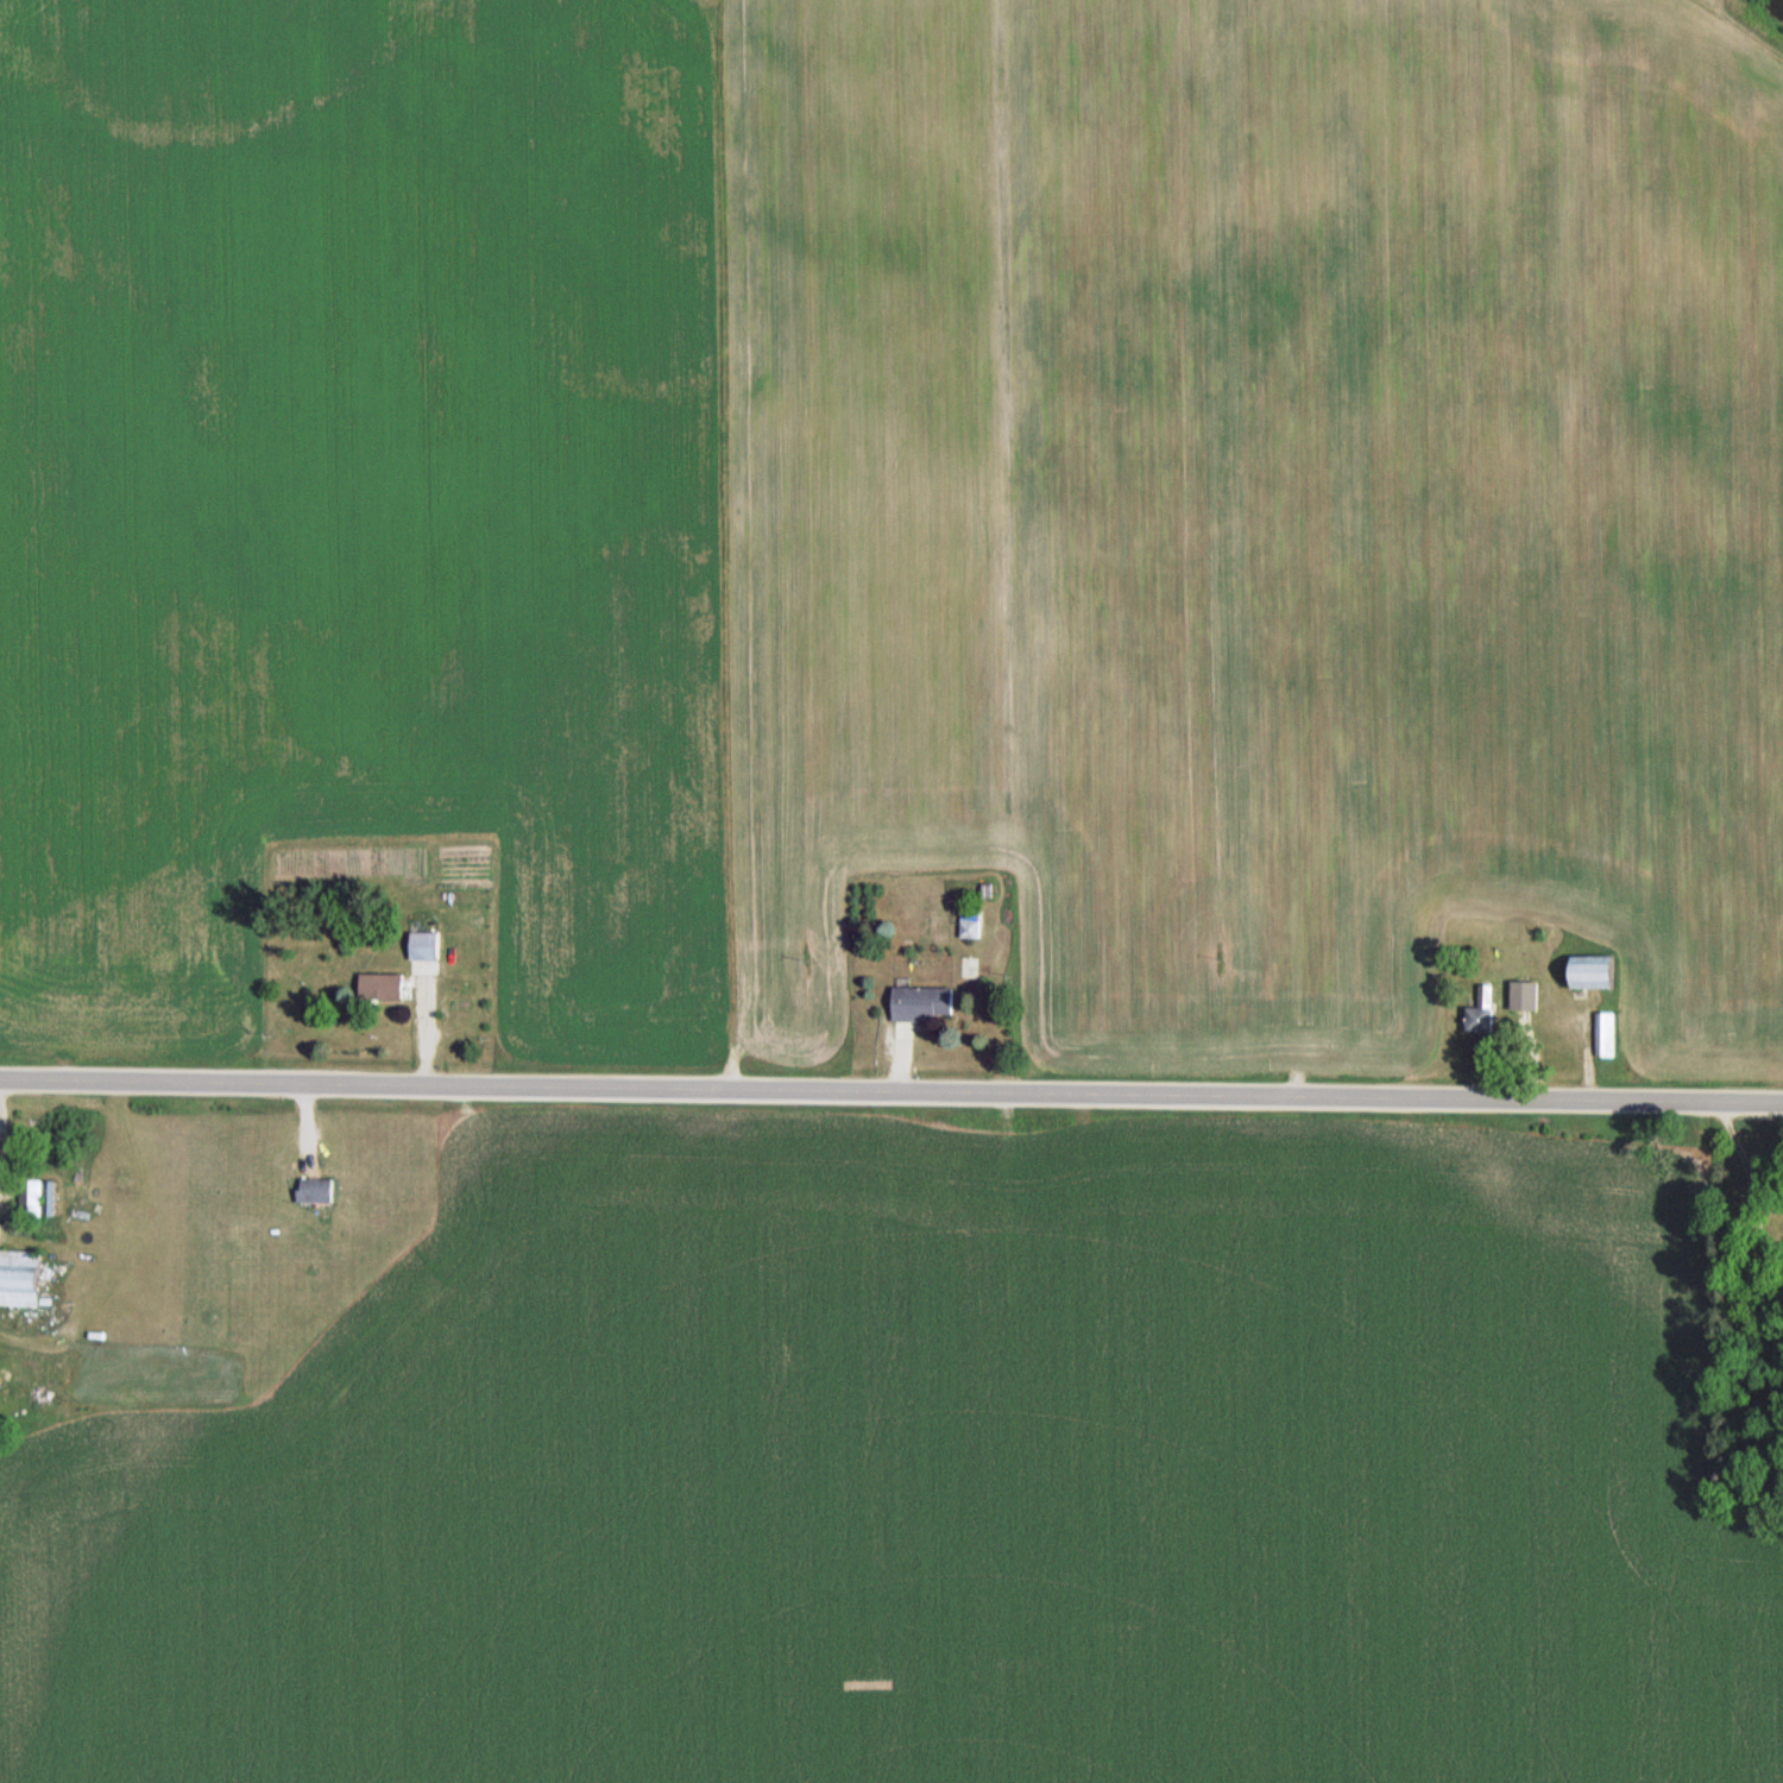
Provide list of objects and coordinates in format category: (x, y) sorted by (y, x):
building: (969, 924)
building: (422, 946)
building: (1586, 972)
building: (378, 987)
building: (1521, 996)
building: (921, 1003)
building: (1479, 1013)
building: (1604, 1034)
road: (892, 1091)
building: (313, 1191)
building: (27, 1198)
building: (18, 1279)
park: (1749, 1310)

